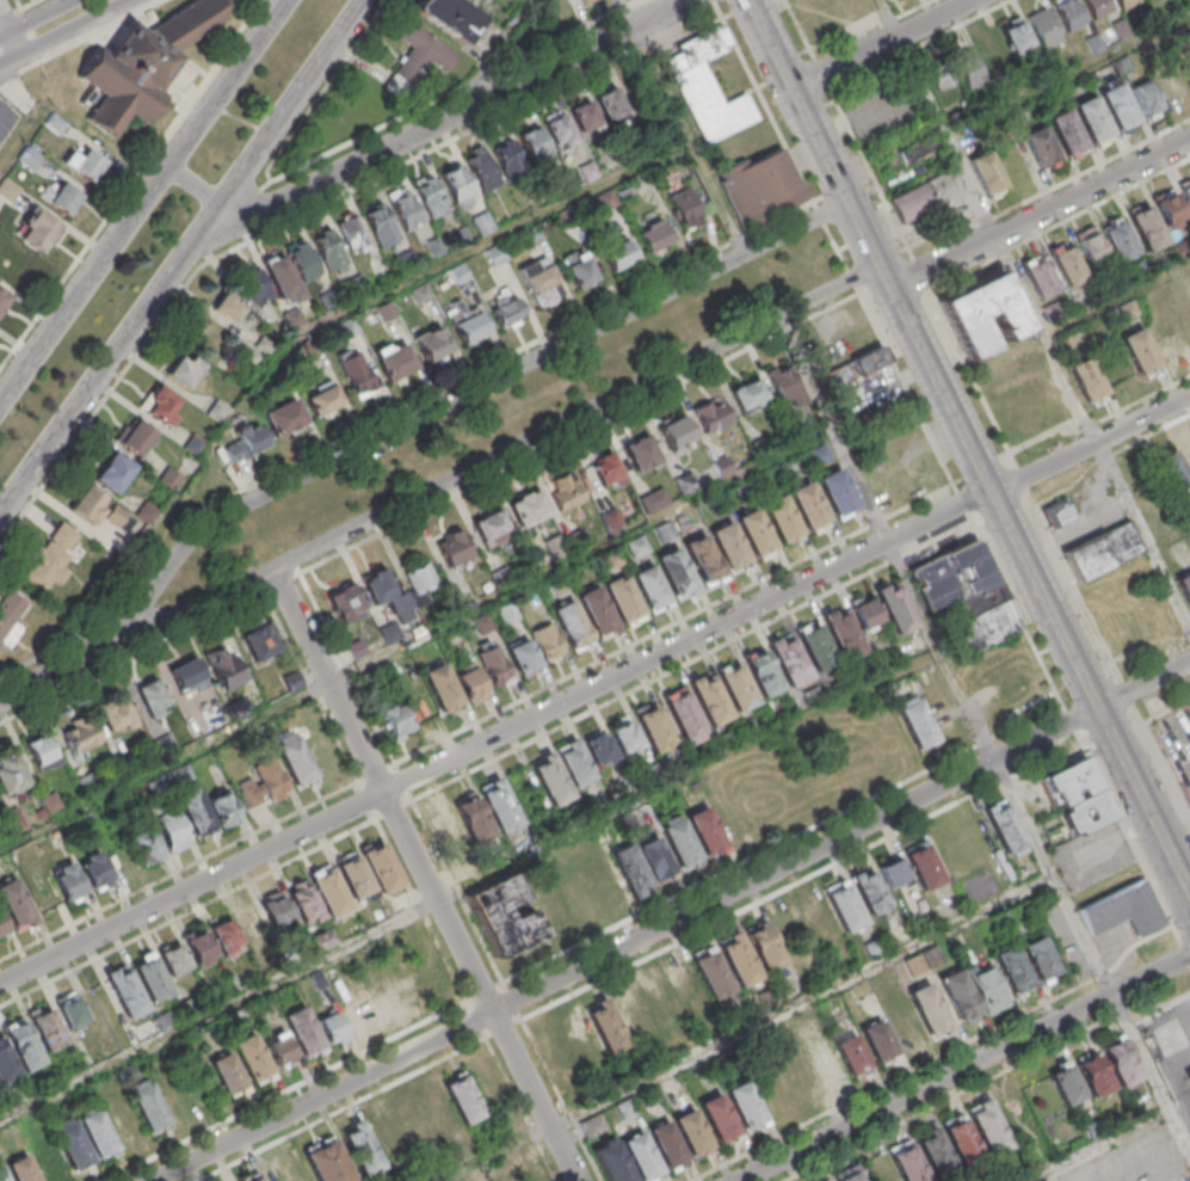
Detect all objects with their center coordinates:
building: (585, 0)
building: (590, 1)
road: (29, 4)
building: (1124, 4)
building: (1096, 7)
road: (913, 11)
road: (627, 13)
building: (1069, 16)
road: (36, 18)
building: (450, 18)
road: (103, 27)
building: (1046, 30)
road: (32, 32)
road: (67, 32)
road: (8, 36)
building: (1017, 37)
road: (884, 44)
road: (502, 51)
building: (991, 53)
building: (421, 55)
building: (144, 66)
road: (23, 68)
building: (951, 69)
road: (1068, 75)
building: (1186, 75)
building: (1170, 86)
building: (710, 88)
building: (1147, 99)
building: (611, 104)
building: (1120, 109)
building: (584, 116)
road: (36, 118)
parking lot: (8, 121)
building: (1093, 121)
road: (437, 122)
building: (560, 130)
road: (818, 133)
building: (1068, 135)
road: (691, 139)
building: (532, 142)
building: (1042, 148)
building: (920, 149)
building: (29, 156)
building: (508, 158)
building: (86, 164)
building: (481, 168)
road: (1092, 168)
building: (988, 176)
road: (130, 184)
road: (195, 185)
building: (457, 186)
building: (7, 189)
building: (764, 189)
building: (430, 195)
building: (1186, 196)
building: (61, 197)
building: (926, 197)
road: (144, 199)
road: (1100, 203)
building: (405, 208)
building: (684, 210)
road: (1042, 215)
building: (482, 222)
building: (380, 223)
building: (39, 229)
building: (351, 232)
building: (1148, 232)
road: (495, 236)
building: (653, 236)
building: (1122, 244)
building: (1091, 250)
building: (328, 251)
building: (495, 254)
building: (618, 256)
road: (183, 258)
building: (302, 263)
building: (1066, 265)
building: (580, 269)
road: (890, 278)
building: (282, 279)
building: (539, 281)
building: (1042, 281)
building: (253, 287)
building: (4, 296)
road: (1117, 297)
building: (227, 308)
building: (507, 308)
road: (1034, 312)
building: (984, 314)
building: (471, 325)
building: (433, 345)
building: (1141, 355)
building: (395, 363)
building: (873, 363)
building: (185, 371)
building: (356, 374)
building: (839, 380)
building: (1087, 383)
building: (781, 385)
building: (748, 395)
road: (460, 396)
building: (322, 399)
building: (160, 405)
building: (713, 417)
building: (284, 418)
road: (1090, 423)
building: (676, 433)
building: (134, 436)
building: (245, 442)
road: (1092, 445)
building: (1185, 449)
building: (640, 455)
building: (820, 456)
road: (500, 459)
building: (604, 470)
building: (113, 472)
building: (1173, 476)
road: (1021, 482)
building: (565, 493)
building: (839, 494)
building: (653, 502)
building: (808, 508)
building: (100, 509)
building: (528, 510)
building: (146, 511)
building: (1061, 515)
building: (782, 519)
building: (611, 521)
road: (651, 525)
building: (492, 528)
building: (665, 533)
building: (756, 535)
road: (1170, 535)
road: (888, 537)
building: (555, 548)
building: (637, 548)
building: (729, 548)
building: (452, 549)
building: (1105, 550)
building: (51, 556)
building: (704, 562)
building: (676, 574)
building: (956, 577)
building: (420, 579)
road: (1042, 588)
building: (1186, 588)
building: (651, 589)
road: (1073, 589)
building: (383, 591)
building: (624, 601)
building: (986, 601)
building: (345, 603)
building: (895, 607)
building: (865, 613)
building: (597, 614)
building: (10, 615)
building: (572, 626)
building: (991, 627)
building: (841, 633)
building: (389, 634)
building: (259, 639)
building: (547, 642)
road: (1148, 644)
building: (815, 647)
road: (131, 652)
building: (523, 656)
building: (788, 660)
building: (223, 666)
building: (495, 666)
building: (763, 673)
building: (185, 675)
road: (57, 676)
road: (1145, 683)
road: (309, 684)
building: (471, 684)
building: (736, 685)
building: (443, 688)
road: (1124, 693)
building: (152, 699)
building: (709, 699)
building: (420, 711)
building: (116, 715)
building: (683, 716)
building: (395, 720)
building: (915, 721)
building: (654, 728)
building: (81, 736)
building: (625, 736)
road: (498, 739)
building: (600, 749)
building: (43, 751)
building: (296, 762)
road: (1160, 762)
building: (574, 763)
road: (166, 765)
building: (11, 773)
building: (550, 779)
building: (1071, 782)
building: (266, 783)
building: (223, 807)
building: (195, 811)
building: (488, 812)
building: (1089, 813)
building: (169, 826)
building: (1005, 826)
building: (448, 828)
building: (704, 832)
building: (679, 843)
building: (148, 845)
building: (640, 865)
building: (381, 866)
building: (924, 867)
building: (95, 872)
road: (179, 872)
road: (426, 875)
building: (354, 876)
building: (68, 881)
road: (800, 881)
road: (471, 885)
building: (878, 885)
building: (319, 898)
building: (16, 904)
building: (276, 910)
building: (1126, 911)
building: (831, 915)
building: (504, 916)
building: (251, 922)
building: (2, 923)
building: (226, 935)
road: (628, 945)
road: (1136, 945)
building: (199, 947)
building: (764, 948)
road: (1087, 957)
building: (173, 958)
building: (738, 959)
building: (1038, 959)
building: (1012, 972)
building: (710, 974)
road: (1098, 976)
building: (150, 977)
building: (682, 979)
building: (402, 983)
building: (987, 989)
building: (125, 990)
building: (377, 995)
building: (960, 998)
building: (661, 999)
road: (513, 1001)
road: (1160, 1005)
building: (72, 1010)
road: (1120, 1011)
building: (631, 1014)
building: (930, 1014)
building: (357, 1016)
building: (598, 1027)
building: (48, 1028)
building: (332, 1028)
road: (505, 1029)
building: (303, 1031)
road: (753, 1031)
building: (23, 1044)
building: (279, 1048)
building: (851, 1053)
building: (252, 1059)
building: (1118, 1062)
building: (7, 1065)
road: (962, 1065)
road: (1176, 1065)
building: (228, 1074)
building: (1092, 1075)
building: (795, 1076)
building: (1189, 1078)
road: (894, 1079)
building: (1065, 1084)
road: (561, 1097)
building: (462, 1099)
road: (948, 1099)
building: (772, 1101)
building: (148, 1106)
road: (520, 1107)
building: (746, 1107)
road: (347, 1108)
building: (434, 1109)
building: (122, 1118)
building: (717, 1119)
building: (411, 1124)
building: (97, 1131)
building: (690, 1133)
building: (955, 1140)
building: (72, 1143)
building: (666, 1146)
road: (1104, 1148)
building: (362, 1149)
building: (628, 1161)
building: (328, 1162)
building: (49, 1163)
building: (21, 1169)
building: (2, 1174)
building: (251, 1176)
building: (849, 1176)
building: (544, 1179)

